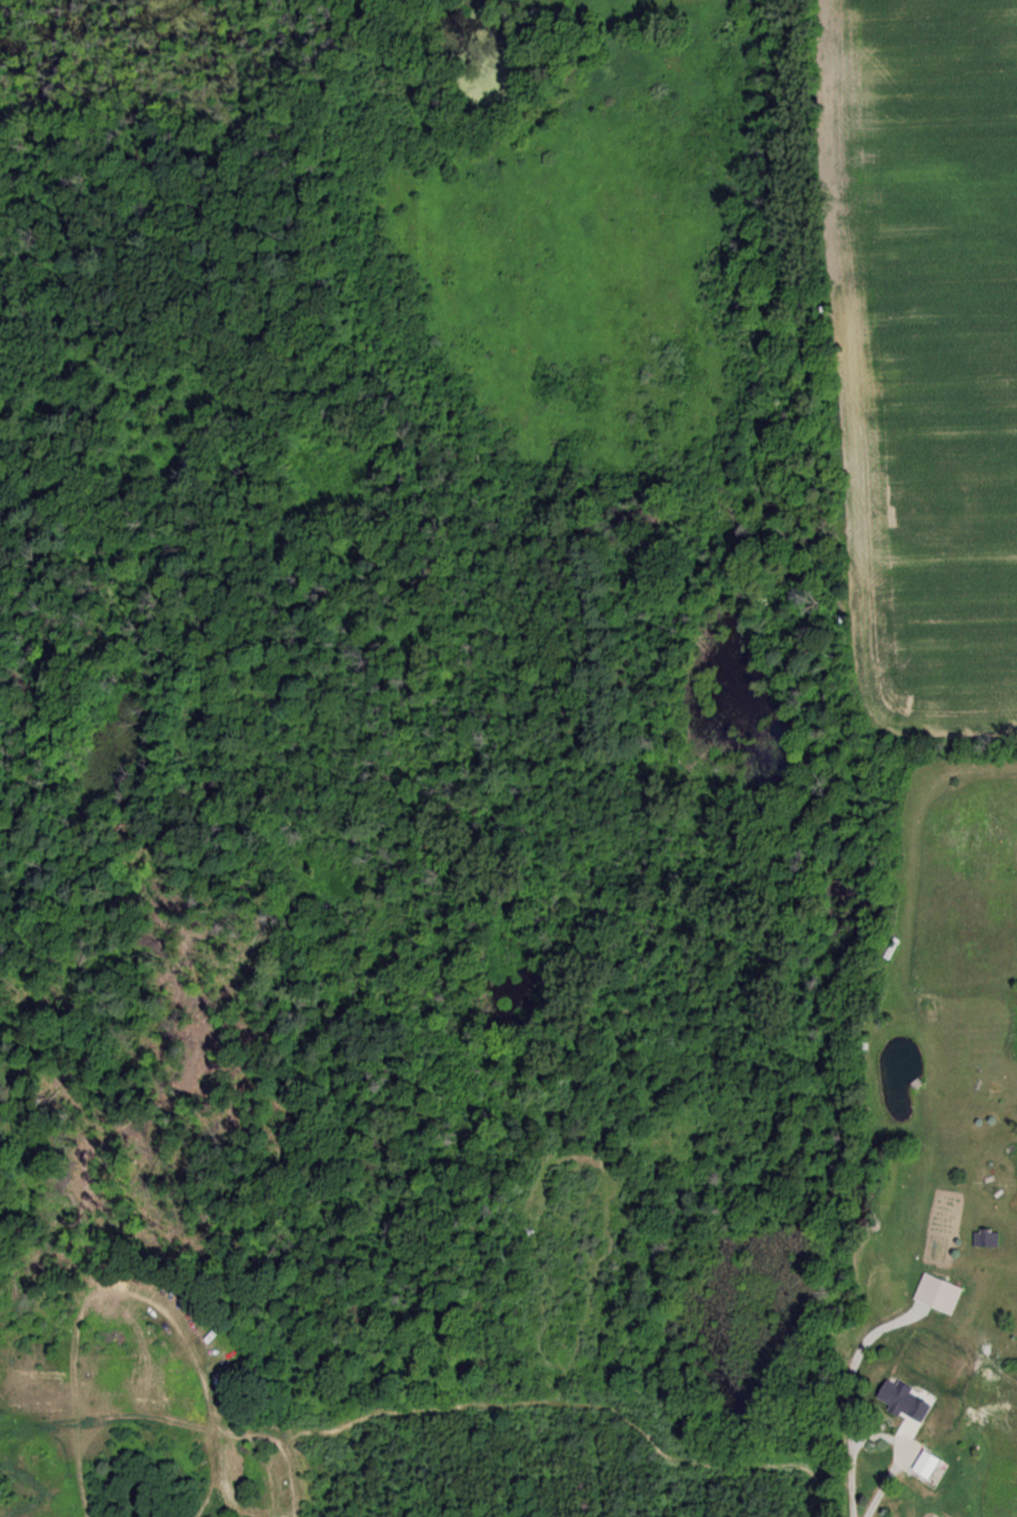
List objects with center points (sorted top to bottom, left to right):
building: (988, 1241)
building: (941, 1294)
building: (900, 1396)
building: (932, 1465)
road: (866, 1471)

